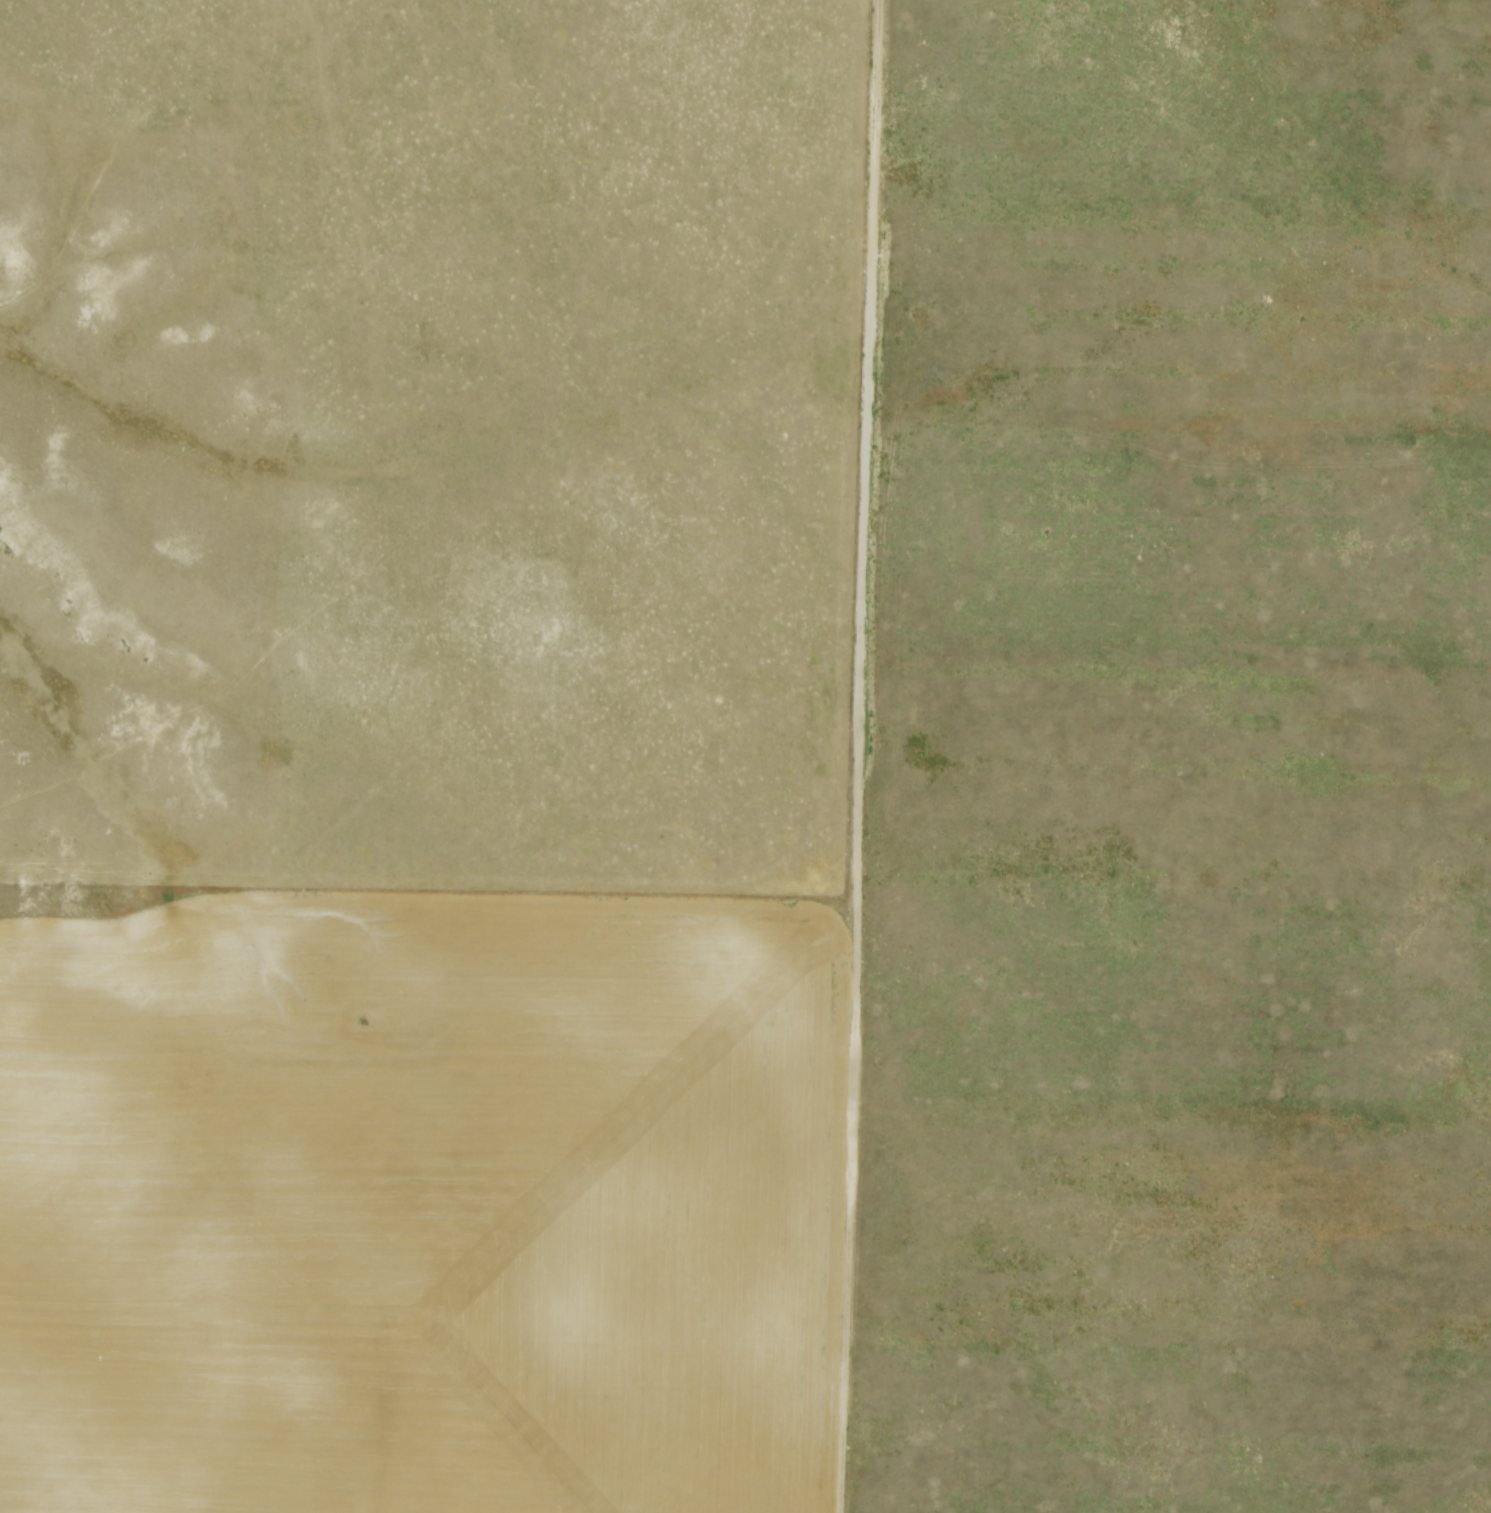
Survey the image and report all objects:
road: (863, 756)
crop: (420, 1202)

